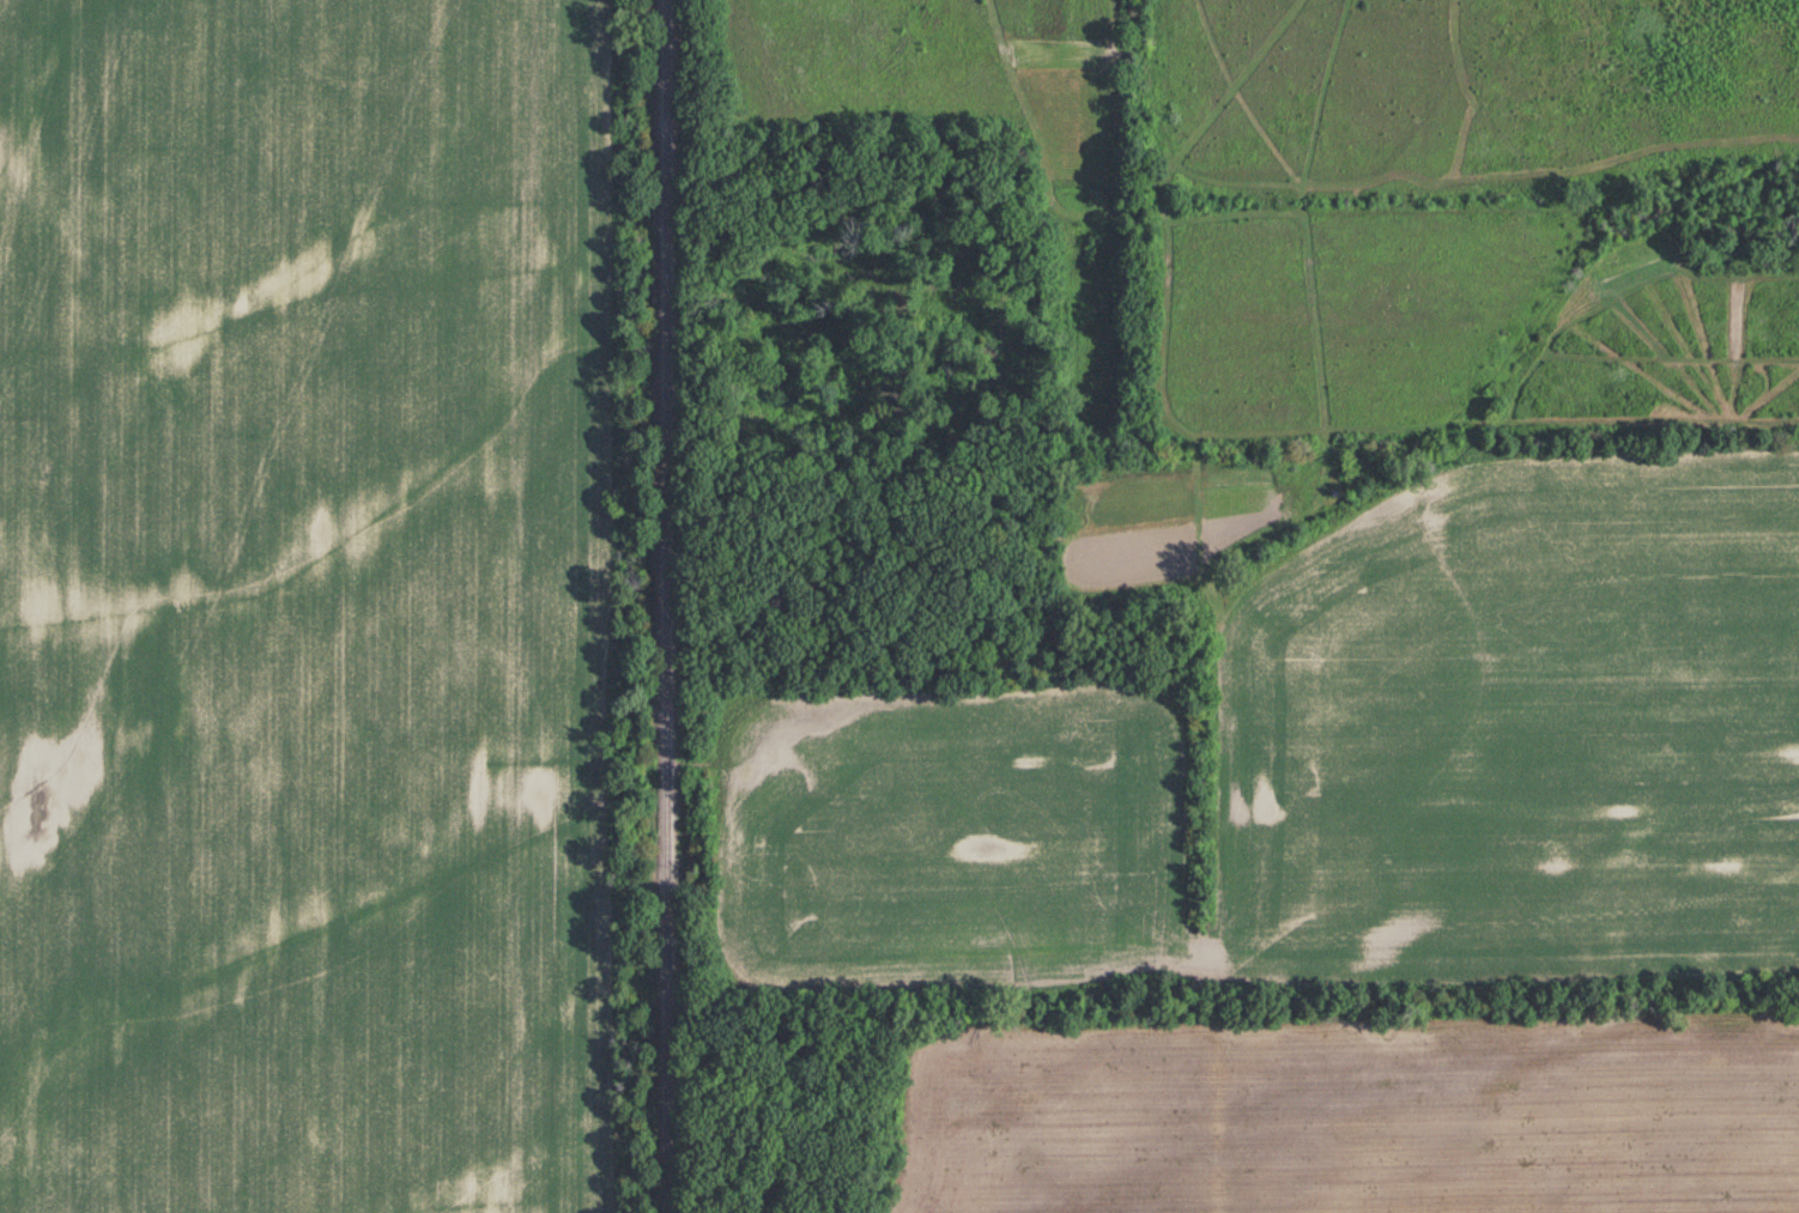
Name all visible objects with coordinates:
railway: (666, 606)

